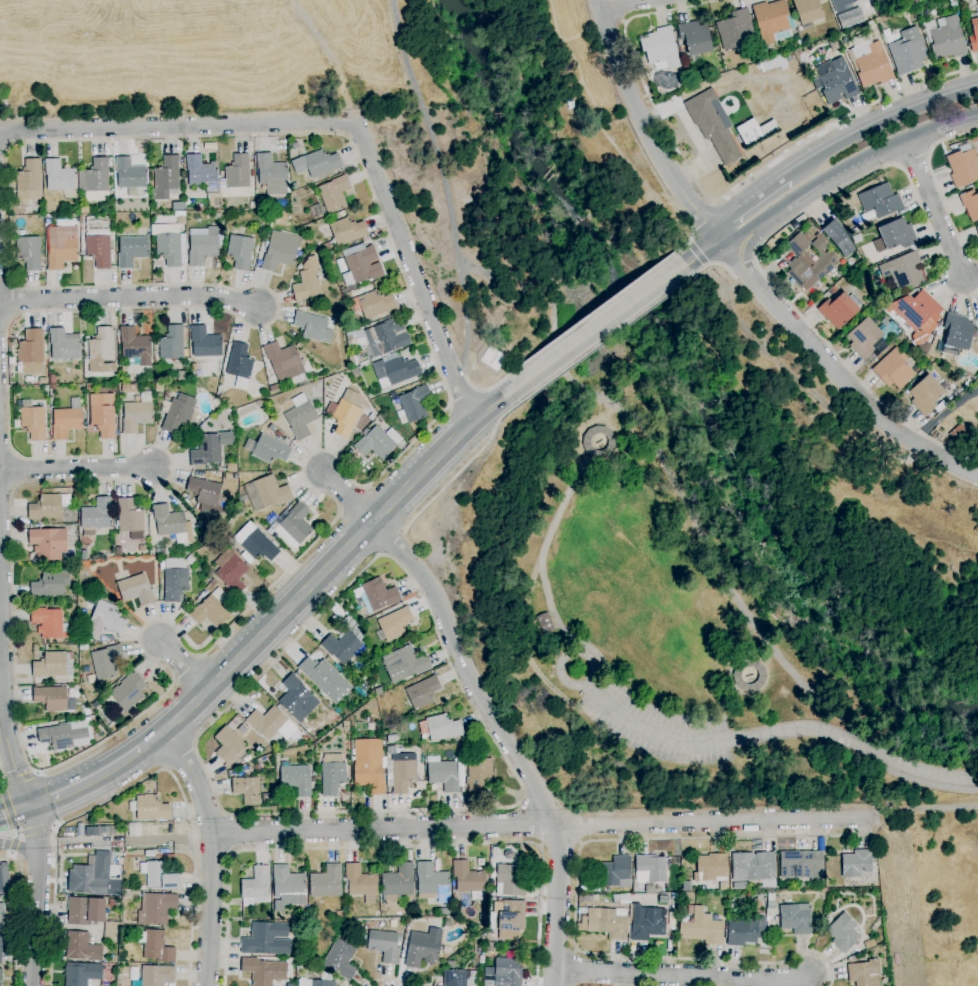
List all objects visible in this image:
building: (912, 1)
road: (612, 3)
building: (847, 4)
building: (953, 5)
road: (618, 10)
building: (808, 11)
building: (770, 20)
road: (623, 22)
building: (735, 29)
building: (974, 32)
building: (695, 37)
building: (945, 38)
building: (833, 44)
building: (660, 49)
building: (908, 51)
building: (772, 64)
building: (869, 64)
building: (835, 81)
road: (878, 121)
road: (337, 122)
building: (805, 124)
building: (713, 125)
road: (642, 126)
building: (754, 131)
building: (295, 146)
building: (316, 163)
building: (963, 166)
road: (841, 171)
building: (237, 172)
building: (130, 174)
building: (201, 174)
building: (272, 175)
building: (59, 176)
building: (166, 178)
building: (95, 181)
building: (28, 183)
road: (936, 186)
building: (293, 187)
building: (334, 193)
road: (718, 200)
building: (879, 201)
road: (745, 202)
road: (712, 204)
building: (970, 204)
building: (252, 205)
building: (178, 207)
road: (933, 208)
building: (180, 220)
road: (703, 220)
building: (976, 228)
road: (732, 229)
building: (347, 231)
road: (693, 234)
building: (897, 235)
building: (838, 237)
road: (691, 238)
building: (856, 239)
building: (308, 242)
road: (689, 242)
road: (764, 242)
building: (168, 244)
building: (315, 246)
building: (61, 247)
building: (327, 247)
building: (99, 249)
building: (202, 249)
building: (131, 251)
building: (280, 251)
building: (28, 252)
building: (240, 252)
road: (698, 253)
road: (755, 253)
road: (695, 254)
building: (331, 259)
building: (809, 261)
road: (743, 262)
road: (707, 265)
road: (711, 265)
building: (363, 266)
building: (904, 271)
road: (730, 272)
building: (307, 281)
building: (343, 290)
building: (833, 290)
road: (129, 298)
building: (309, 304)
building: (375, 304)
building: (839, 309)
road: (593, 312)
building: (915, 312)
road: (466, 319)
building: (976, 324)
building: (312, 327)
road: (596, 328)
building: (957, 332)
building: (871, 337)
building: (381, 338)
building: (205, 342)
road: (599, 344)
building: (63, 345)
building: (135, 346)
building: (171, 346)
building: (31, 347)
building: (101, 352)
building: (492, 358)
building: (240, 361)
building: (352, 361)
building: (283, 362)
building: (185, 365)
building: (194, 367)
building: (893, 369)
building: (396, 370)
road: (836, 371)
building: (356, 373)
building: (183, 375)
building: (160, 376)
building: (52, 379)
river: (700, 382)
building: (240, 383)
building: (967, 383)
building: (89, 386)
building: (128, 388)
road: (488, 388)
road: (599, 394)
building: (166, 395)
road: (461, 395)
building: (926, 396)
road: (493, 403)
building: (415, 404)
building: (102, 413)
road: (945, 413)
building: (137, 414)
building: (346, 414)
building: (178, 415)
building: (300, 417)
building: (67, 420)
building: (33, 423)
building: (957, 433)
building: (378, 442)
building: (611, 442)
building: (210, 448)
building: (267, 449)
road: (76, 468)
road: (458, 470)
road: (369, 485)
building: (271, 492)
building: (207, 495)
road: (347, 495)
building: (48, 506)
building: (96, 516)
building: (130, 519)
building: (170, 524)
building: (293, 526)
road: (551, 529)
road: (391, 541)
building: (48, 543)
building: (256, 543)
building: (142, 548)
road: (381, 554)
building: (247, 558)
building: (190, 560)
building: (231, 572)
building: (175, 580)
building: (51, 583)
building: (212, 584)
road: (309, 585)
building: (135, 590)
building: (378, 595)
building: (193, 598)
park: (734, 603)
building: (213, 609)
building: (82, 614)
building: (104, 620)
building: (48, 623)
building: (543, 623)
building: (393, 625)
building: (109, 639)
building: (341, 647)
building: (106, 662)
building: (404, 663)
road: (183, 664)
building: (53, 665)
building: (747, 675)
building: (325, 679)
building: (128, 692)
building: (422, 692)
building: (53, 699)
building: (297, 699)
road: (3, 708)
building: (86, 711)
building: (331, 716)
building: (271, 723)
building: (345, 726)
building: (442, 727)
road: (486, 729)
parking lot: (657, 730)
road: (769, 734)
building: (62, 737)
building: (305, 737)
building: (392, 739)
road: (509, 739)
building: (227, 744)
building: (391, 751)
road: (180, 756)
building: (368, 765)
building: (256, 767)
building: (403, 774)
road: (2, 775)
building: (478, 775)
building: (445, 776)
building: (332, 778)
road: (18, 779)
building: (314, 779)
building: (296, 780)
road: (85, 781)
road: (138, 782)
building: (247, 790)
building: (266, 798)
road: (45, 799)
building: (149, 808)
road: (922, 808)
road: (13, 812)
road: (13, 822)
road: (31, 825)
road: (541, 825)
road: (35, 830)
road: (862, 833)
road: (230, 834)
road: (192, 839)
road: (151, 841)
road: (85, 842)
road: (48, 843)
road: (389, 846)
road: (560, 846)
road: (212, 852)
road: (28, 860)
building: (856, 864)
building: (753, 866)
building: (802, 866)
building: (711, 868)
building: (650, 869)
building: (616, 872)
building: (159, 876)
building: (94, 878)
building: (468, 880)
building: (510, 880)
building: (2, 881)
building: (326, 882)
building: (398, 882)
building: (361, 883)
building: (432, 883)
building: (288, 886)
building: (255, 887)
building: (141, 888)
building: (674, 896)
building: (1, 898)
road: (575, 898)
building: (621, 899)
building: (831, 899)
building: (111, 904)
building: (753, 904)
building: (770, 905)
building: (156, 909)
building: (689, 910)
building: (85, 911)
building: (443, 911)
road: (18, 912)
building: (455, 913)
road: (36, 914)
building: (339, 914)
building: (510, 915)
building: (1, 916)
building: (796, 918)
building: (647, 922)
building: (607, 923)
building: (344, 925)
building: (702, 928)
building: (111, 932)
building: (741, 932)
building: (843, 932)
building: (490, 937)
building: (266, 939)
building: (384, 945)
building: (155, 946)
building: (489, 946)
building: (81, 947)
building: (422, 950)
building: (0, 951)
building: (113, 959)
building: (340, 960)
building: (263, 971)
building: (503, 973)
building: (864, 973)
building: (82, 974)
road: (682, 974)
building: (0, 976)
building: (152, 976)
building: (459, 978)
road: (386, 980)
building: (321, 983)

